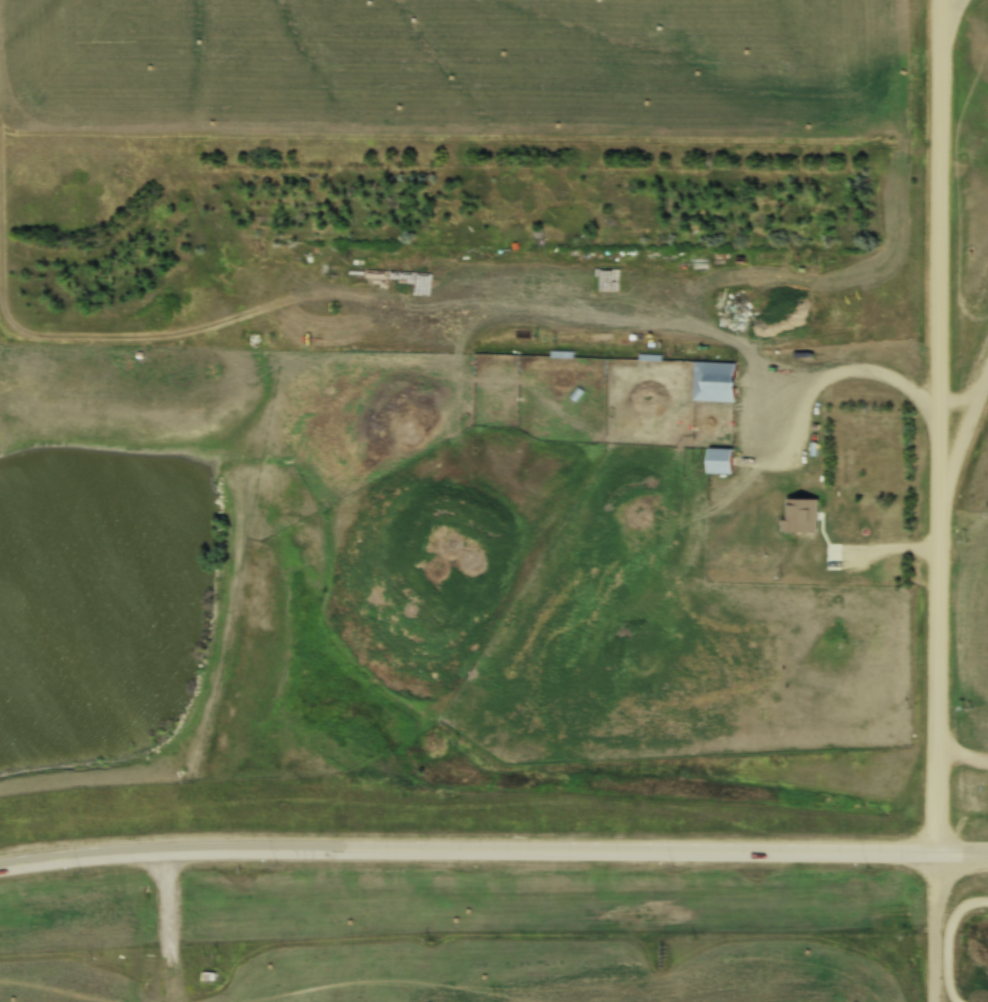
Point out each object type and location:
road: (946, 5)
road: (939, 258)
road: (862, 373)
building: (714, 382)
building: (718, 461)
building: (801, 515)
road: (938, 611)
road: (493, 849)
road: (932, 928)

